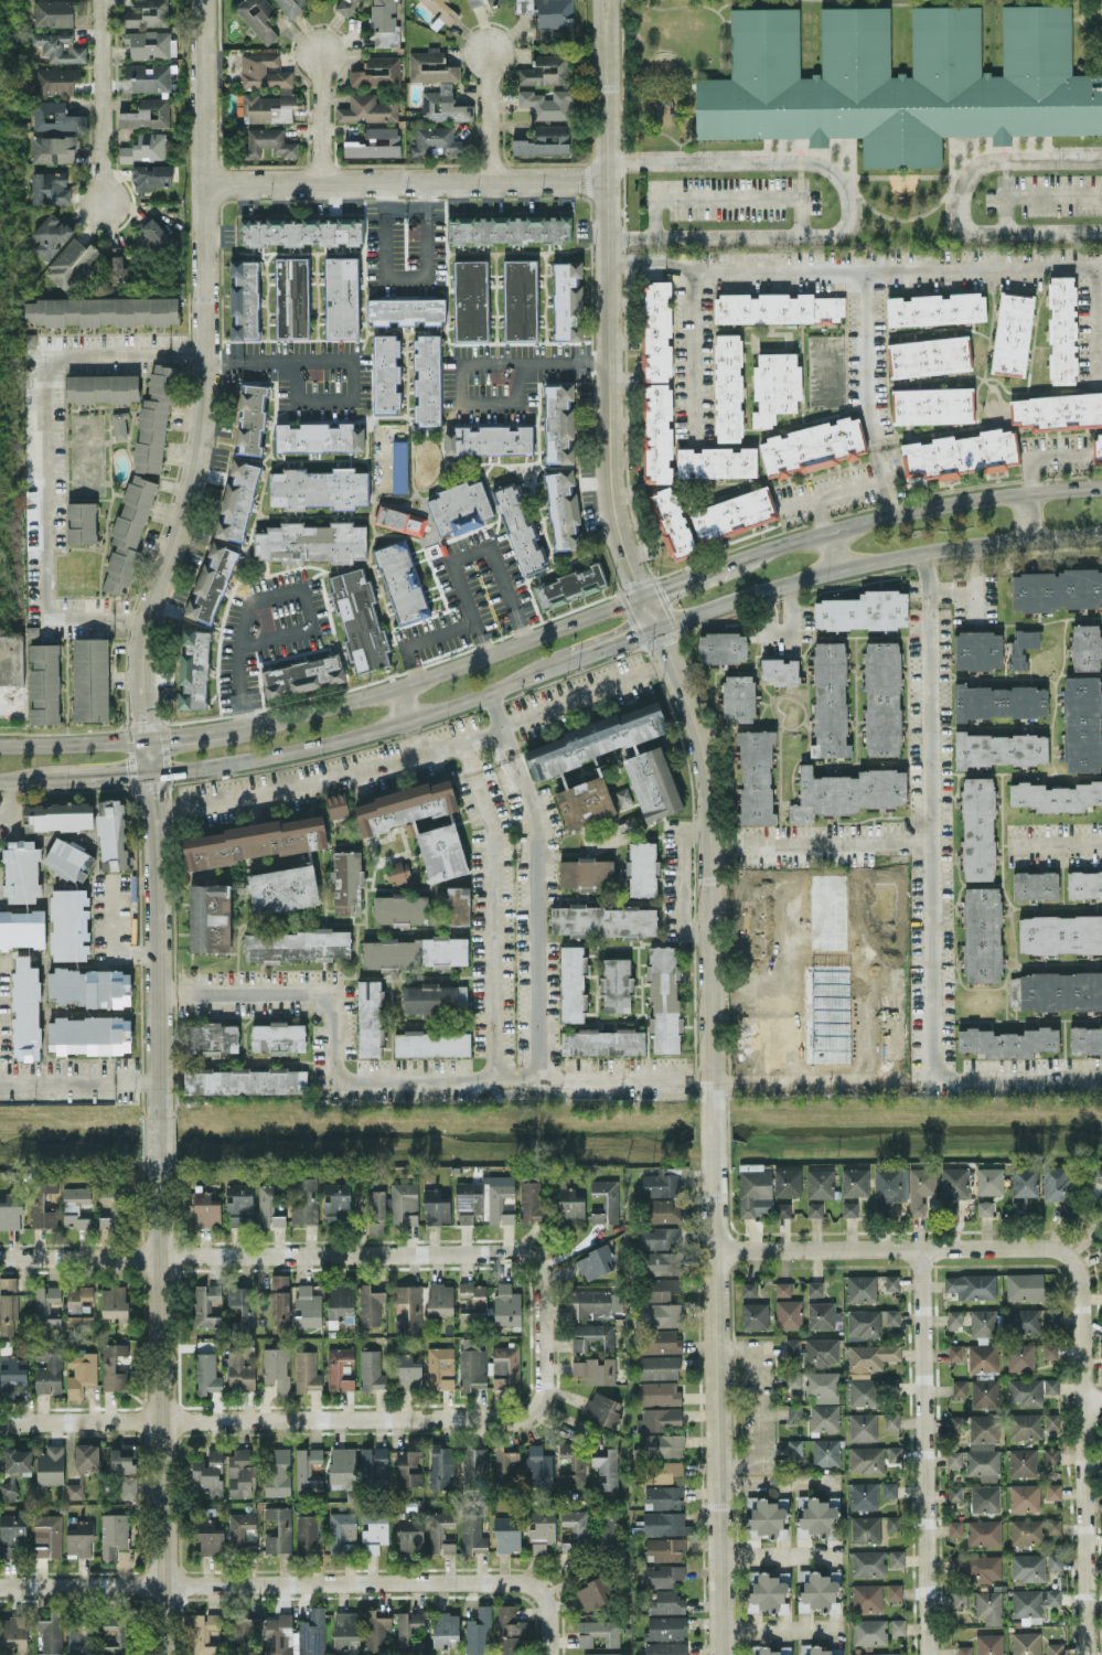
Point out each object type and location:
building: (480, 2)
building: (290, 4)
building: (345, 6)
building: (442, 11)
building: (548, 11)
building: (54, 12)
building: (145, 13)
building: (257, 17)
building: (385, 22)
building: (148, 43)
building: (58, 46)
building: (431, 66)
building: (545, 70)
building: (264, 71)
building: (376, 72)
building: (148, 76)
building: (54, 79)
building: (899, 81)
road: (100, 102)
building: (547, 103)
building: (443, 105)
building: (267, 107)
building: (366, 109)
building: (147, 114)
building: (55, 116)
road: (319, 116)
road: (488, 116)
building: (436, 140)
building: (267, 141)
building: (544, 141)
building: (375, 142)
building: (145, 147)
building: (53, 148)
building: (151, 175)
road: (899, 175)
road: (1003, 177)
road: (798, 180)
road: (406, 181)
building: (50, 188)
road: (1033, 194)
road: (725, 200)
road: (956, 201)
road: (844, 203)
road: (899, 217)
building: (509, 228)
building: (300, 231)
building: (51, 235)
building: (152, 237)
building: (71, 264)
building: (117, 266)
road: (854, 271)
road: (407, 276)
building: (291, 297)
building: (341, 297)
building: (244, 298)
building: (520, 299)
building: (471, 300)
building: (567, 300)
building: (778, 308)
building: (935, 308)
building: (405, 310)
building: (100, 311)
building: (1061, 329)
building: (1012, 333)
building: (929, 355)
road: (692, 356)
road: (534, 363)
building: (385, 373)
building: (427, 380)
building: (656, 381)
road: (46, 382)
building: (774, 385)
building: (101, 387)
building: (728, 387)
road: (867, 393)
road: (324, 401)
road: (488, 403)
building: (932, 405)
building: (1058, 410)
building: (156, 415)
building: (559, 423)
building: (119, 425)
building: (318, 437)
building: (488, 439)
building: (813, 447)
building: (1098, 448)
building: (959, 453)
building: (716, 462)
building: (243, 463)
building: (399, 466)
building: (319, 488)
road: (831, 492)
building: (459, 508)
road: (918, 508)
building: (563, 510)
building: (734, 514)
road: (821, 514)
road: (1023, 515)
building: (399, 520)
building: (81, 522)
building: (672, 522)
building: (520, 530)
building: (128, 532)
building: (311, 542)
road: (470, 551)
road: (832, 551)
road: (168, 553)
road: (628, 554)
road: (875, 562)
traffic signals: (636, 577)
road: (692, 577)
building: (210, 580)
building: (402, 583)
building: (569, 586)
traffic signals: (663, 588)
building: (1058, 589)
building: (863, 610)
road: (309, 618)
building: (360, 619)
road: (782, 634)
traffic signals: (633, 636)
road: (422, 638)
road: (614, 642)
traffic signals: (662, 644)
building: (721, 647)
building: (1023, 647)
building: (1085, 647)
building: (977, 650)
road: (239, 660)
building: (193, 669)
road: (439, 670)
building: (780, 671)
building: (302, 674)
building: (90, 679)
building: (44, 683)
building: (738, 697)
building: (881, 698)
building: (830, 700)
building: (999, 701)
road: (399, 702)
traffic signals: (146, 720)
building: (1082, 723)
road: (364, 728)
road: (189, 732)
traffic signals: (171, 735)
road: (409, 736)
road: (73, 739)
building: (595, 739)
building: (998, 749)
road: (416, 754)
traffic signals: (126, 771)
road: (103, 773)
building: (756, 776)
road: (28, 778)
building: (652, 783)
traffic signals: (151, 790)
building: (846, 792)
building: (1056, 796)
road: (8, 800)
building: (585, 801)
building: (336, 805)
building: (57, 815)
road: (929, 815)
building: (419, 823)
building: (977, 827)
building: (111, 833)
building: (254, 841)
road: (1056, 842)
road: (819, 843)
building: (68, 858)
building: (642, 868)
building: (21, 871)
building: (397, 871)
building: (587, 873)
road: (536, 879)
road: (682, 879)
building: (346, 882)
building: (1083, 884)
building: (1035, 885)
building: (282, 888)
building: (454, 906)
road: (493, 907)
building: (400, 908)
road: (110, 916)
building: (210, 917)
building: (602, 919)
building: (69, 923)
building: (22, 928)
building: (982, 933)
building: (1060, 933)
building: (297, 944)
building: (414, 952)
road: (790, 970)
building: (573, 983)
building: (616, 984)
building: (89, 986)
building: (1056, 990)
building: (434, 997)
building: (664, 999)
building: (25, 1010)
building: (370, 1017)
building: (89, 1034)
building: (277, 1036)
building: (211, 1037)
building: (1085, 1039)
building: (1007, 1040)
building: (602, 1042)
building: (431, 1043)
road: (1018, 1078)
building: (245, 1080)
road: (393, 1080)
road: (805, 1082)
road: (81, 1085)
road: (716, 1122)
river: (550, 1127)
road: (162, 1131)
building: (1095, 1174)
building: (989, 1179)
building: (854, 1181)
building: (788, 1182)
building: (660, 1183)
building: (820, 1183)
building: (1055, 1183)
building: (1024, 1186)
building: (889, 1187)
building: (920, 1187)
building: (953, 1187)
building: (753, 1188)
building: (304, 1199)
building: (469, 1200)
building: (605, 1200)
building: (336, 1202)
building: (499, 1202)
building: (532, 1202)
building: (238, 1203)
building: (404, 1203)
building: (42, 1204)
building: (113, 1205)
building: (569, 1205)
building: (75, 1206)
building: (268, 1207)
building: (436, 1207)
building: (984, 1207)
building: (814, 1208)
building: (848, 1208)
building: (206, 1209)
building: (783, 1209)
building: (11, 1211)
building: (377, 1211)
building: (665, 1211)
building: (657, 1237)
road: (900, 1248)
road: (304, 1252)
building: (1100, 1257)
building: (595, 1262)
building: (663, 1262)
building: (891, 1282)
building: (8, 1284)
building: (971, 1285)
building: (1027, 1286)
building: (662, 1288)
building: (782, 1288)
building: (815, 1288)
building: (862, 1288)
building: (749, 1289)
building: (77, 1298)
building: (440, 1299)
building: (471, 1300)
building: (341, 1301)
building: (280, 1302)
building: (593, 1302)
building: (114, 1303)
building: (206, 1304)
building: (370, 1304)
building: (506, 1304)
building: (45, 1305)
building: (308, 1305)
building: (408, 1306)
building: (242, 1309)
building: (7, 1312)
building: (662, 1314)
building: (755, 1314)
building: (789, 1314)
building: (822, 1314)
building: (1051, 1314)
building: (954, 1317)
building: (79, 1320)
building: (1023, 1320)
building: (869, 1322)
building: (982, 1322)
building: (592, 1335)
building: (659, 1341)
building: (793, 1347)
building: (1050, 1350)
building: (821, 1352)
building: (954, 1352)
building: (869, 1357)
building: (983, 1357)
building: (1020, 1357)
building: (472, 1364)
building: (113, 1366)
building: (505, 1366)
building: (239, 1367)
building: (339, 1367)
building: (440, 1367)
building: (659, 1367)
building: (277, 1368)
building: (307, 1370)
building: (371, 1370)
building: (596, 1370)
building: (407, 1371)
building: (47, 1373)
building: (81, 1373)
building: (206, 1373)
building: (13, 1374)
building: (793, 1378)
building: (1050, 1385)
building: (823, 1386)
building: (959, 1387)
building: (1024, 1390)
building: (863, 1391)
building: (984, 1391)
building: (659, 1392)
road: (1092, 1398)
road: (718, 1401)
road: (162, 1405)
road: (757, 1406)
building: (602, 1408)
building: (794, 1411)
road: (306, 1417)
building: (824, 1417)
building: (661, 1418)
building: (890, 1420)
building: (1051, 1420)
building: (954, 1422)
building: (1025, 1426)
building: (863, 1427)
building: (664, 1444)
building: (794, 1445)
building: (983, 1446)
building: (825, 1451)
road: (924, 1451)
building: (895, 1453)
building: (87, 1455)
building: (1050, 1455)
building: (122, 1458)
building: (953, 1458)
building: (866, 1459)
road: (1083, 1459)
building: (474, 1460)
building: (571, 1462)
building: (1021, 1462)
building: (409, 1463)
building: (51, 1464)
building: (504, 1464)
building: (441, 1465)
building: (342, 1466)
building: (373, 1466)
building: (537, 1466)
building: (307, 1467)
building: (606, 1469)
building: (14, 1470)
building: (662, 1471)
building: (240, 1472)
building: (207, 1473)
building: (278, 1473)
road: (777, 1481)
building: (127, 1486)
building: (889, 1488)
building: (74, 1489)
building: (1053, 1491)
building: (954, 1492)
building: (864, 1495)
building: (663, 1496)
building: (1024, 1496)
building: (984, 1497)
building: (815, 1516)
building: (766, 1518)
building: (662, 1523)
building: (892, 1523)
building: (1053, 1525)
building: (541, 1528)
building: (609, 1528)
building: (866, 1528)
building: (955, 1528)
building: (278, 1529)
building: (374, 1529)
building: (575, 1530)
building: (1026, 1530)
building: (440, 1531)
building: (12, 1533)
building: (240, 1533)
building: (472, 1533)
building: (984, 1533)
building: (308, 1534)
building: (46, 1535)
building: (113, 1535)
building: (409, 1535)
building: (505, 1535)
building: (210, 1537)
building: (665, 1548)
road: (777, 1553)
building: (897, 1557)
building: (1055, 1560)
building: (868, 1562)
building: (977, 1566)
building: (1027, 1567)
building: (665, 1574)
road: (302, 1583)
building: (894, 1590)
building: (817, 1591)
building: (593, 1592)
building: (768, 1593)
building: (866, 1597)
building: (666, 1602)
building: (1033, 1602)
building: (988, 1605)
building: (898, 1625)
building: (665, 1626)
building: (446, 1627)
road: (777, 1627)
building: (345, 1629)
building: (375, 1629)
building: (479, 1631)
building: (598, 1631)
building: (869, 1631)
building: (13, 1632)
building: (51, 1632)
building: (82, 1632)
building: (117, 1632)
building: (244, 1632)
building: (511, 1632)
building: (203, 1633)
building: (296, 1634)
building: (1026, 1643)
building: (988, 1644)
building: (664, 1647)
building: (1053, 1648)
building: (813, 1649)
building: (963, 1649)
building: (768, 1651)
building: (603, 1653)
building: (880, 1653)

